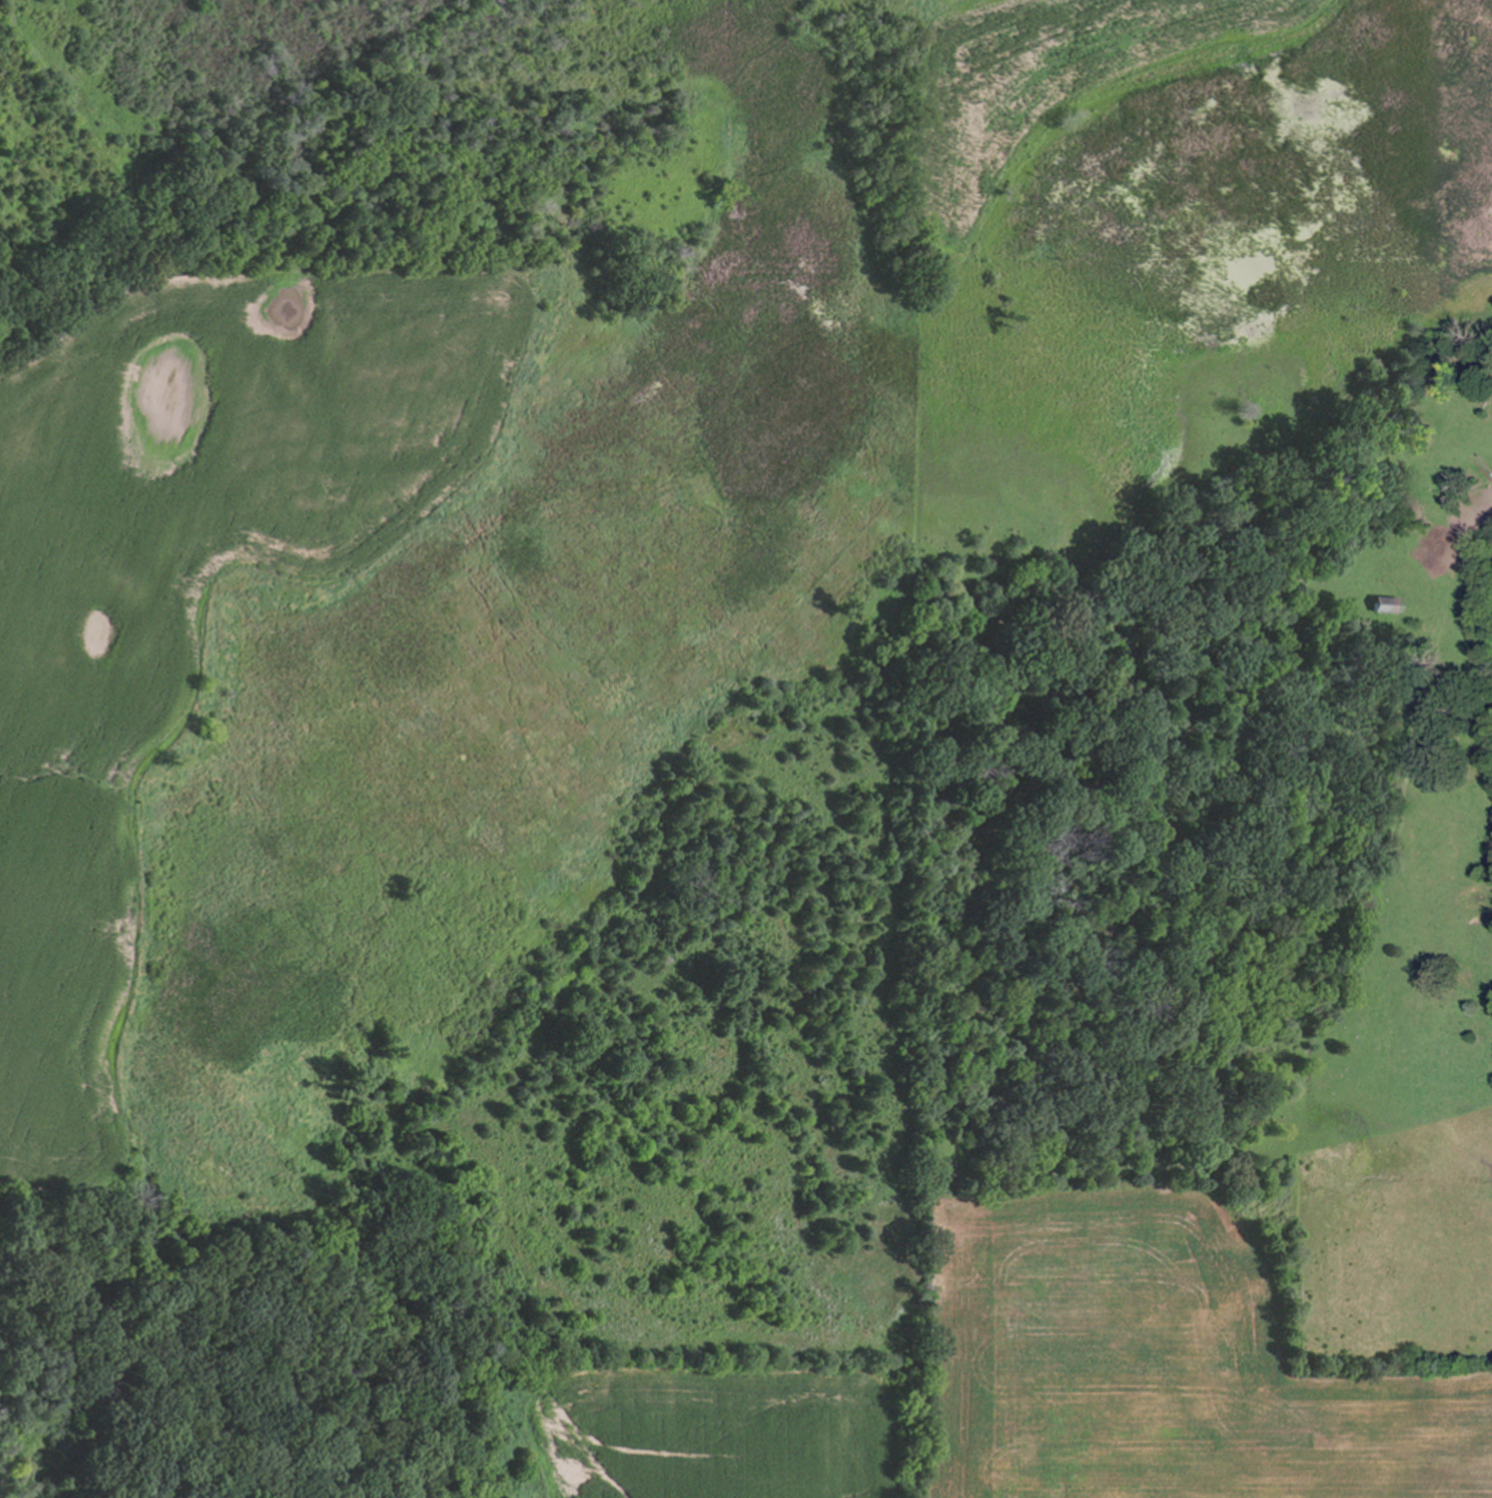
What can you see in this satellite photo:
building: (1382, 602)

